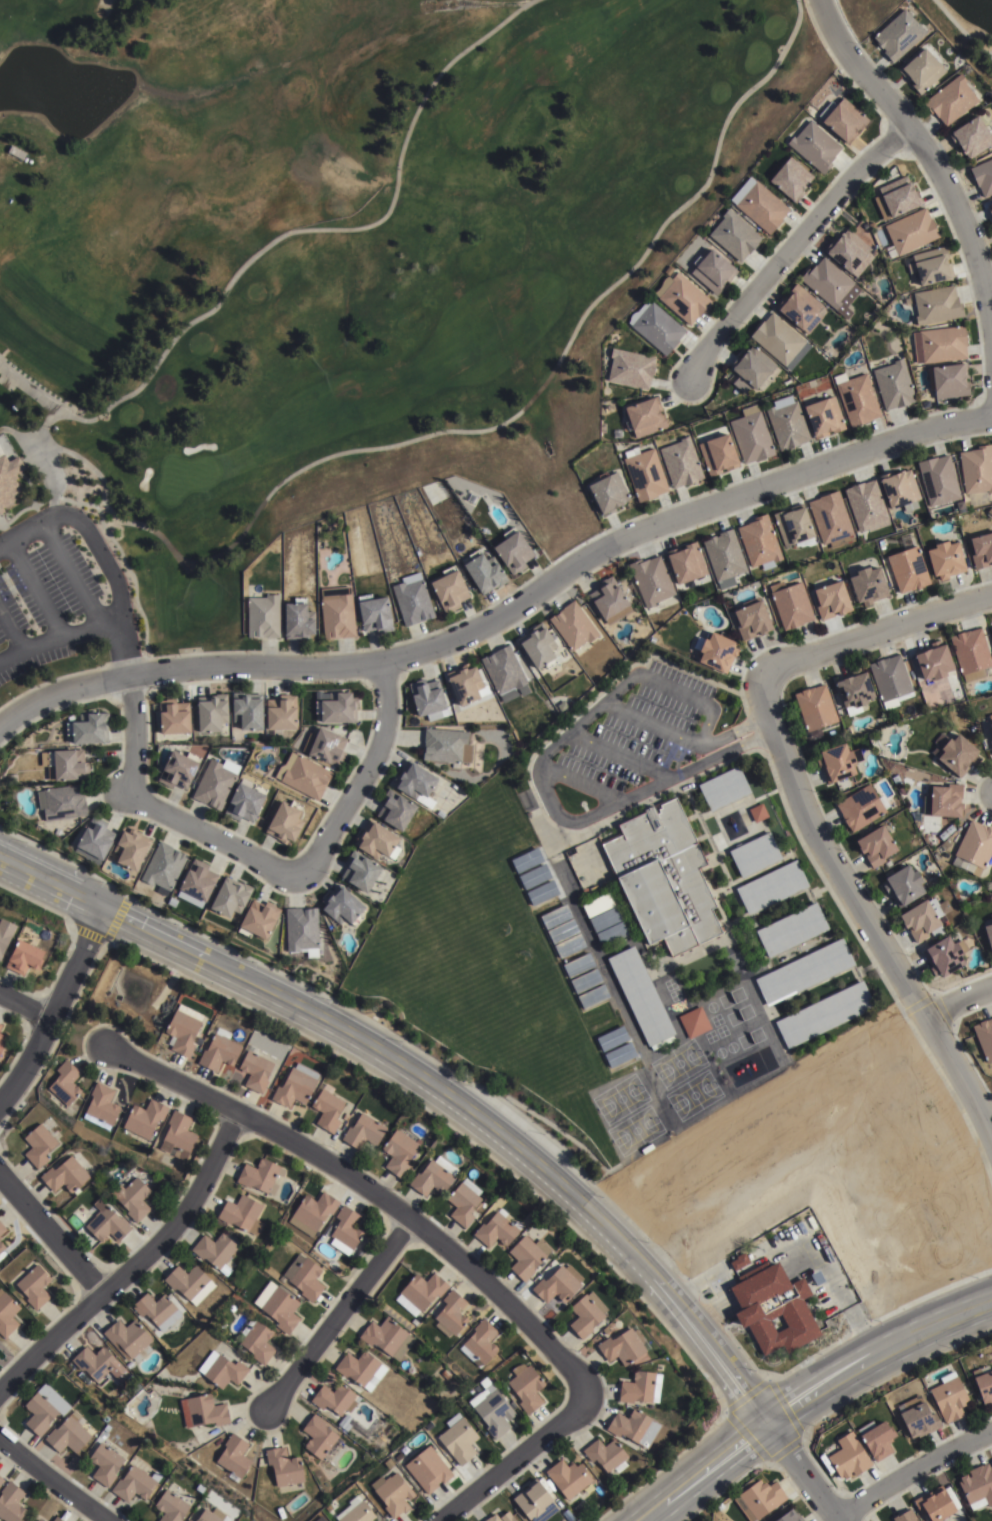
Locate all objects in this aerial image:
park: (866, 12)
park: (968, 27)
building: (898, 35)
building: (922, 71)
building: (951, 101)
building: (845, 121)
building: (972, 138)
road: (913, 141)
building: (815, 147)
building: (16, 153)
building: (983, 178)
building: (791, 181)
building: (897, 199)
building: (759, 206)
building: (990, 209)
building: (911, 232)
building: (734, 237)
park: (344, 243)
road: (789, 249)
building: (849, 254)
building: (931, 267)
building: (712, 273)
building: (831, 287)
building: (684, 300)
building: (937, 306)
building: (799, 310)
building: (655, 328)
building: (780, 342)
building: (939, 346)
building: (630, 370)
building: (751, 372)
building: (949, 382)
building: (894, 386)
building: (857, 400)
building: (644, 419)
building: (823, 419)
building: (786, 424)
building: (750, 437)
building: (718, 457)
building: (680, 465)
building: (977, 466)
building: (644, 476)
building: (938, 477)
building: (9, 482)
building: (899, 485)
building: (607, 496)
building: (866, 503)
building: (831, 518)
building: (792, 522)
road: (27, 536)
building: (759, 540)
building: (982, 547)
road: (5, 548)
building: (513, 548)
building: (724, 555)
building: (946, 556)
building: (685, 560)
building: (908, 567)
building: (484, 569)
road: (112, 575)
road: (73, 577)
building: (651, 577)
building: (868, 582)
building: (449, 587)
road: (36, 590)
building: (831, 597)
parking lot: (59, 598)
building: (412, 598)
building: (610, 598)
building: (790, 601)
road: (501, 606)
building: (336, 611)
building: (374, 612)
building: (262, 614)
building: (752, 617)
building: (297, 618)
building: (573, 623)
road: (111, 627)
road: (81, 631)
road: (876, 632)
road: (14, 641)
road: (40, 642)
building: (539, 645)
building: (717, 648)
building: (971, 652)
building: (935, 663)
building: (503, 667)
building: (890, 679)
building: (465, 681)
road: (672, 689)
building: (853, 689)
building: (425, 697)
building: (815, 705)
building: (338, 706)
building: (248, 709)
building: (212, 710)
building: (283, 711)
building: (174, 714)
road: (767, 723)
road: (651, 724)
building: (991, 724)
building: (88, 726)
road: (730, 733)
road: (132, 735)
building: (991, 741)
building: (326, 744)
building: (446, 744)
parking lot: (630, 745)
building: (955, 751)
road: (622, 754)
road: (721, 754)
building: (837, 760)
building: (67, 762)
building: (178, 767)
building: (306, 775)
building: (895, 778)
building: (216, 781)
building: (416, 782)
road: (581, 783)
building: (723, 787)
building: (943, 799)
building: (245, 800)
building: (61, 801)
building: (861, 806)
building: (395, 807)
road: (552, 807)
building: (757, 811)
building: (440, 813)
building: (286, 819)
building: (950, 828)
building: (943, 834)
building: (375, 838)
building: (95, 839)
building: (875, 844)
building: (944, 844)
building: (131, 847)
building: (974, 847)
building: (754, 854)
road: (318, 858)
building: (526, 860)
building: (163, 865)
building: (359, 869)
building: (663, 876)
building: (197, 882)
building: (904, 883)
building: (537, 884)
building: (771, 886)
building: (230, 896)
building: (598, 903)
building: (341, 904)
road: (866, 911)
building: (555, 915)
building: (923, 916)
building: (258, 918)
building: (605, 918)
building: (302, 928)
building: (791, 928)
building: (563, 930)
building: (612, 932)
building: (5, 933)
building: (988, 933)
building: (570, 945)
building: (945, 954)
building: (25, 957)
building: (578, 963)
building: (804, 971)
building: (586, 980)
building: (593, 995)
building: (642, 997)
road: (961, 1000)
road: (25, 1005)
road: (54, 1010)
building: (824, 1014)
building: (694, 1021)
building: (0, 1025)
building: (183, 1029)
building: (984, 1036)
building: (2, 1042)
building: (219, 1050)
building: (255, 1070)
building: (64, 1083)
building: (294, 1086)
road: (426, 1086)
building: (101, 1103)
building: (326, 1108)
building: (144, 1118)
building: (363, 1133)
building: (178, 1135)
building: (38, 1145)
building: (399, 1151)
building: (64, 1175)
building: (261, 1176)
building: (433, 1176)
road: (369, 1187)
building: (132, 1199)
building: (464, 1201)
building: (313, 1213)
building: (242, 1214)
building: (105, 1224)
building: (2, 1228)
building: (347, 1228)
building: (497, 1229)
road: (50, 1234)
building: (2, 1246)
building: (339, 1246)
building: (215, 1251)
building: (527, 1256)
building: (739, 1260)
road: (135, 1265)
building: (304, 1277)
building: (189, 1283)
building: (559, 1284)
building: (35, 1286)
building: (419, 1293)
building: (278, 1306)
building: (773, 1307)
building: (154, 1309)
road: (338, 1310)
building: (451, 1313)
building: (7, 1314)
building: (586, 1314)
building: (387, 1338)
building: (129, 1339)
building: (256, 1340)
building: (481, 1342)
building: (624, 1346)
building: (93, 1362)
building: (221, 1370)
building: (361, 1370)
building: (486, 1382)
building: (983, 1384)
building: (526, 1387)
building: (641, 1388)
road: (809, 1398)
building: (333, 1399)
building: (949, 1399)
building: (40, 1411)
building: (203, 1412)
building: (494, 1412)
building: (919, 1421)
building: (635, 1428)
building: (68, 1434)
building: (319, 1439)
building: (876, 1439)
building: (459, 1441)
building: (606, 1456)
building: (234, 1457)
building: (849, 1457)
building: (991, 1459)
road: (513, 1461)
building: (104, 1464)
building: (284, 1468)
building: (427, 1471)
road: (914, 1471)
road: (804, 1473)
road: (56, 1476)
building: (0, 1478)
building: (568, 1479)
building: (1, 1481)
building: (135, 1484)
building: (977, 1487)
building: (392, 1495)
building: (759, 1496)
building: (534, 1502)
building: (10, 1503)
building: (934, 1505)
building: (171, 1507)
building: (578, 1510)
building: (357, 1513)
building: (786, 1515)
building: (211, 1516)
building: (904, 1516)
building: (501, 1518)
building: (582, 1518)
building: (55, 1519)
building: (38, 1520)
building: (187, 1520)

